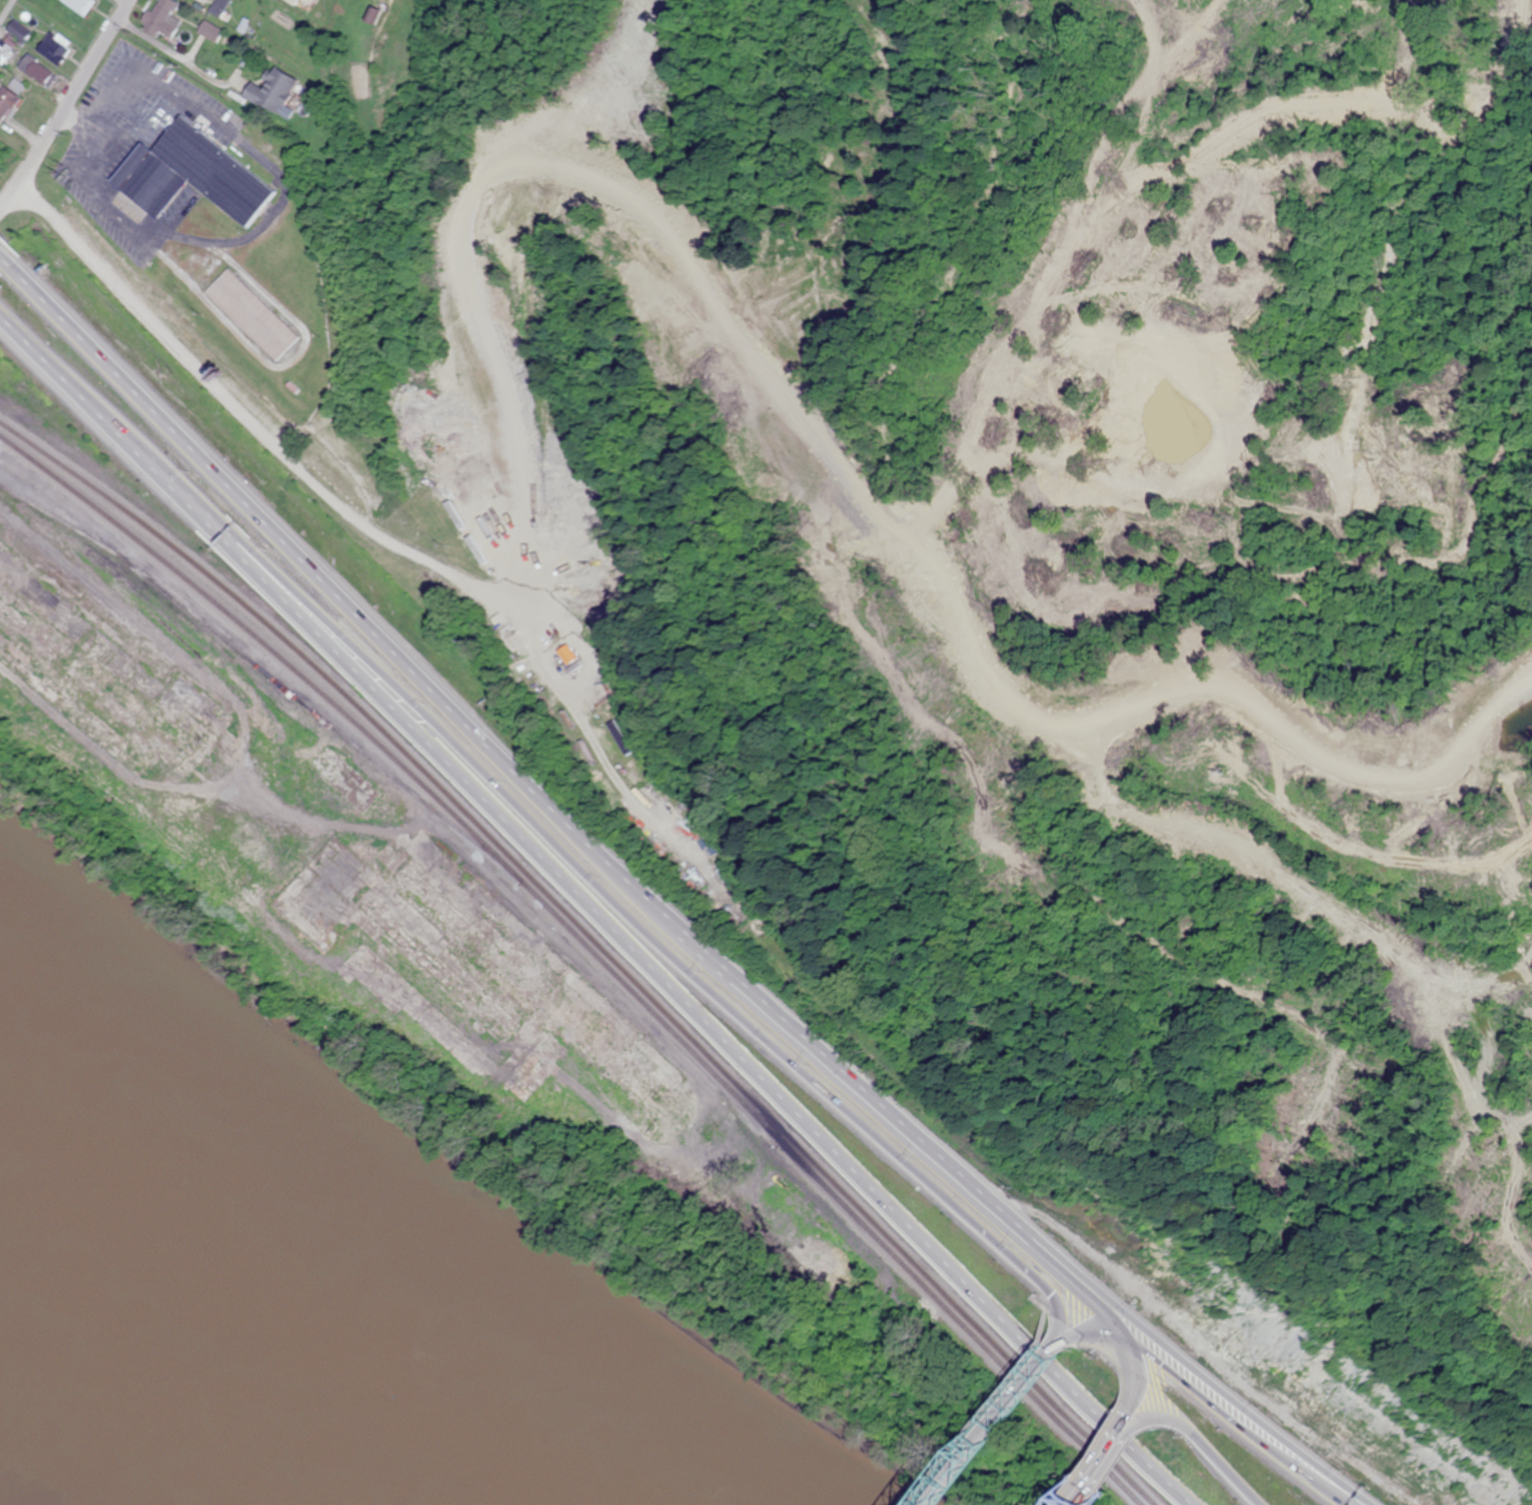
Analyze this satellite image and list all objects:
building: (292, 1)
building: (80, 6)
road: (5, 8)
building: (163, 17)
building: (54, 47)
building: (38, 72)
building: (272, 89)
building: (7, 101)
road: (70, 109)
building: (190, 174)
building: (251, 315)
road: (314, 568)
building: (565, 655)
road: (592, 913)
road: (648, 929)
railway: (595, 941)
railway: (591, 947)
road: (825, 1050)
traffic signals: (1047, 1286)
road: (1100, 1314)
traffic signals: (1170, 1347)
traffic signals: (1158, 1364)
road: (1192, 1365)
road: (1210, 1401)
river: (140, 1414)
road: (993, 1425)
traffic signals: (1122, 1426)
road: (1199, 1440)
road: (1099, 1465)

